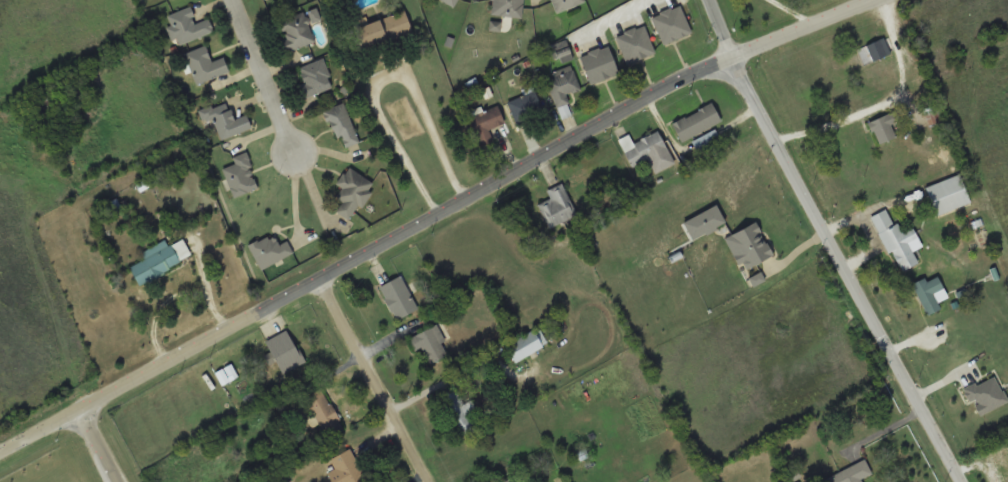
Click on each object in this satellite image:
building: (450, 2)
building: (564, 4)
building: (507, 7)
building: (671, 24)
building: (187, 26)
building: (384, 30)
building: (296, 33)
building: (635, 44)
building: (878, 48)
building: (205, 64)
building: (598, 64)
road: (262, 76)
building: (314, 78)
building: (563, 88)
building: (526, 107)
building: (932, 114)
building: (225, 119)
building: (695, 122)
building: (485, 123)
building: (341, 124)
building: (884, 126)
building: (647, 151)
building: (352, 191)
building: (947, 195)
building: (557, 205)
road: (431, 216)
building: (894, 240)
road: (832, 243)
building: (160, 259)
building: (929, 291)
building: (398, 298)
building: (430, 344)
building: (527, 345)
building: (285, 351)
building: (226, 374)
road: (371, 381)
building: (458, 412)
building: (324, 413)
road: (96, 446)
building: (1004, 457)
building: (346, 468)
building: (852, 473)
building: (509, 481)

